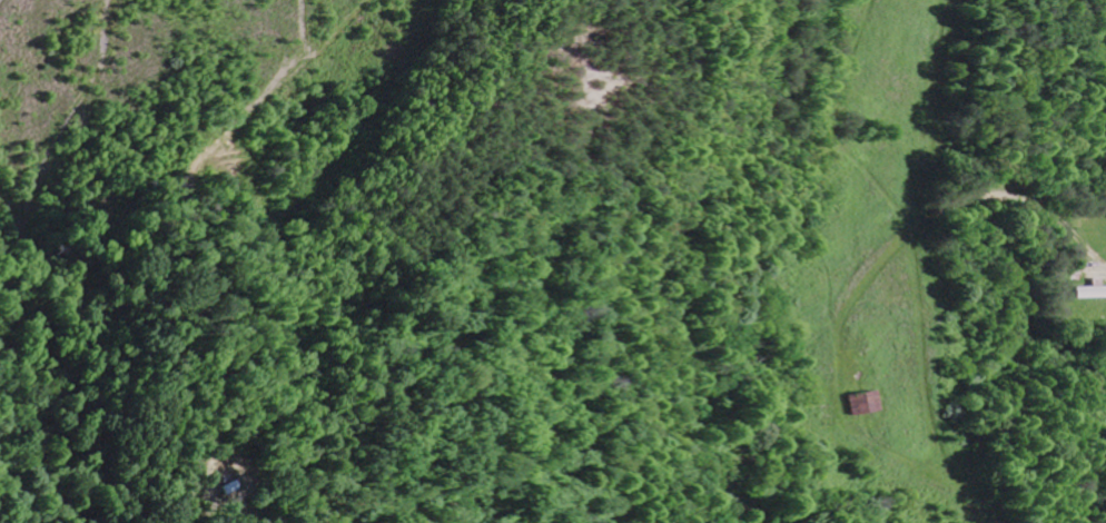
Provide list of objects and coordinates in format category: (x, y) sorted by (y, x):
building: (1088, 292)
building: (849, 403)

